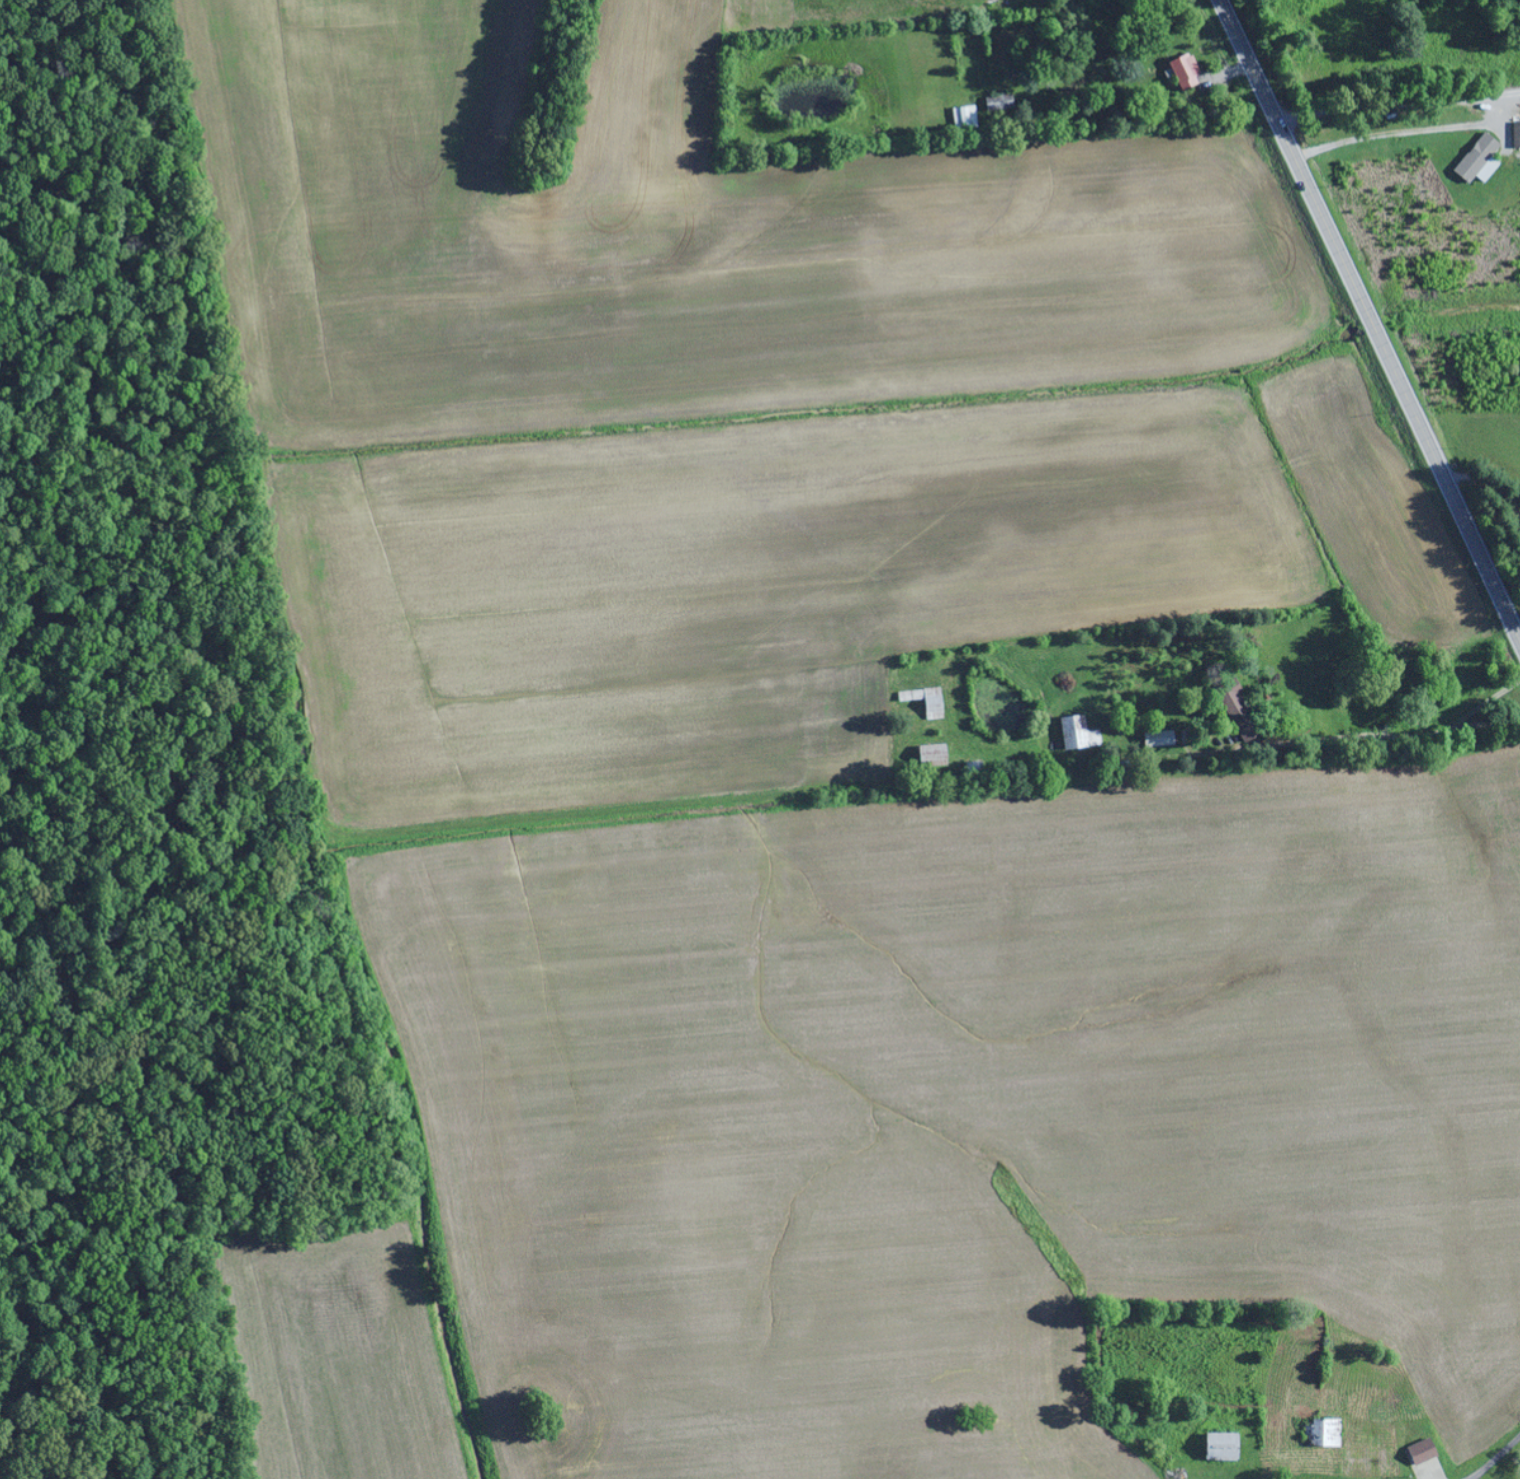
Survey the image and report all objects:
road: (1388, 62)
building: (1181, 71)
building: (1515, 135)
building: (1476, 160)
road: (1369, 320)
building: (1075, 734)
building: (1158, 739)
building: (1214, 1447)
building: (1418, 1452)

